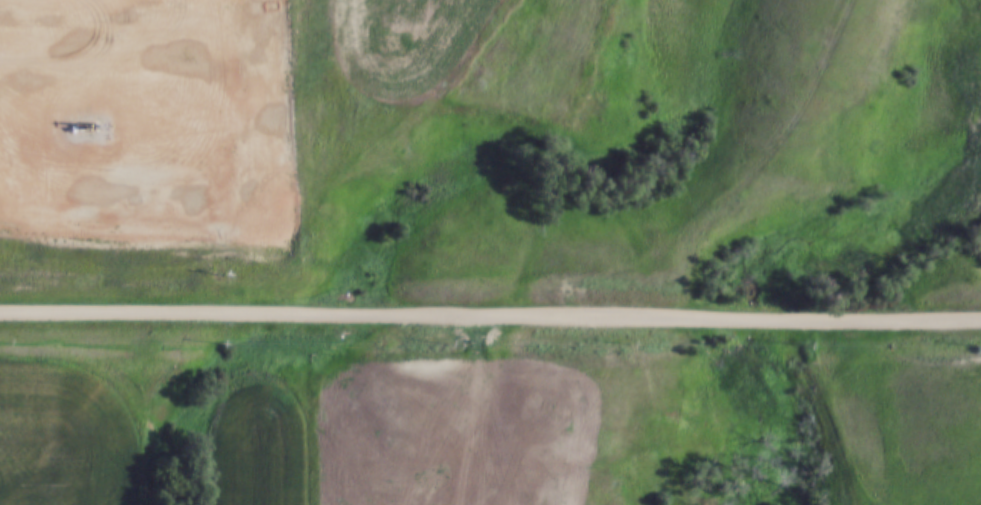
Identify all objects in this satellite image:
road: (490, 318)

